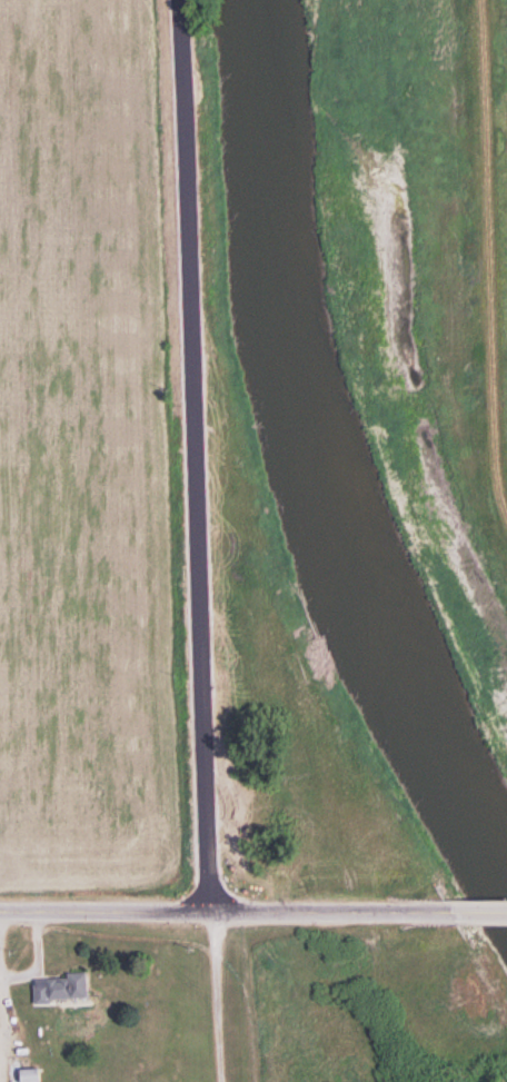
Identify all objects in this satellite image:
river: (345, 451)
road: (195, 456)
road: (226, 913)
road: (479, 913)
building: (54, 989)
building: (31, 1076)

